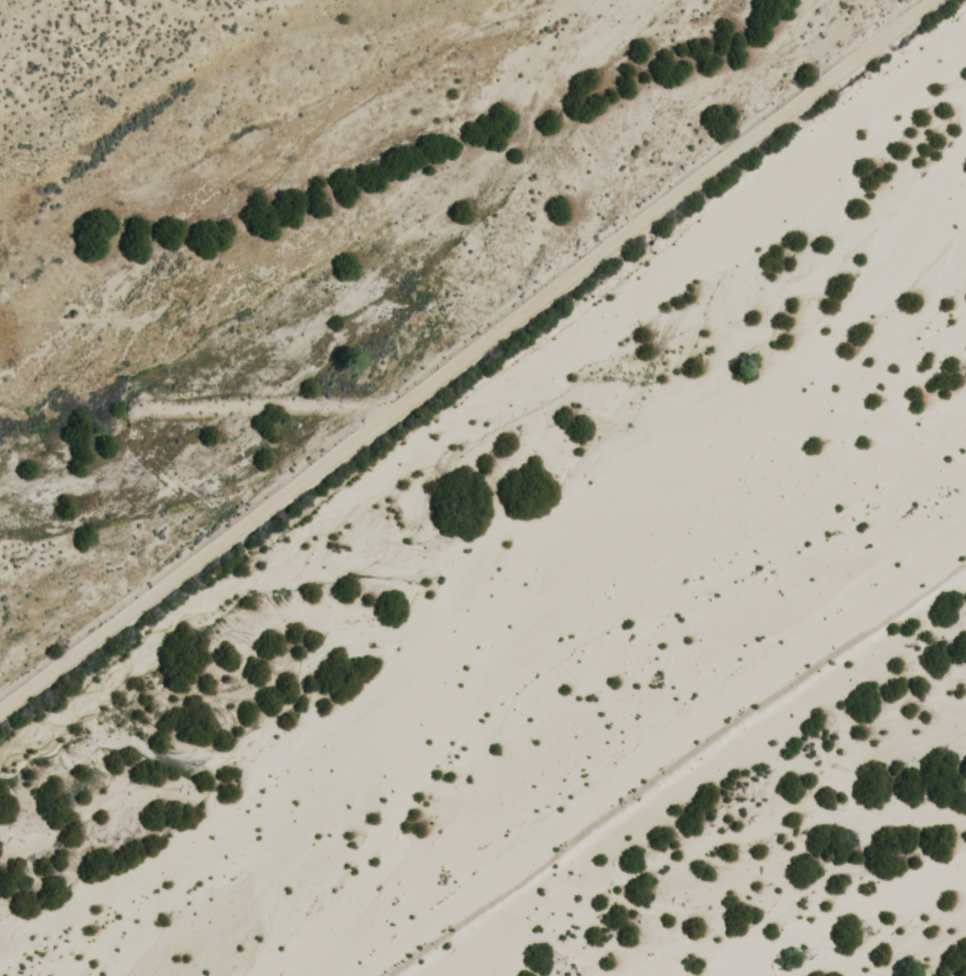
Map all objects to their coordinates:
river: (859, 887)

